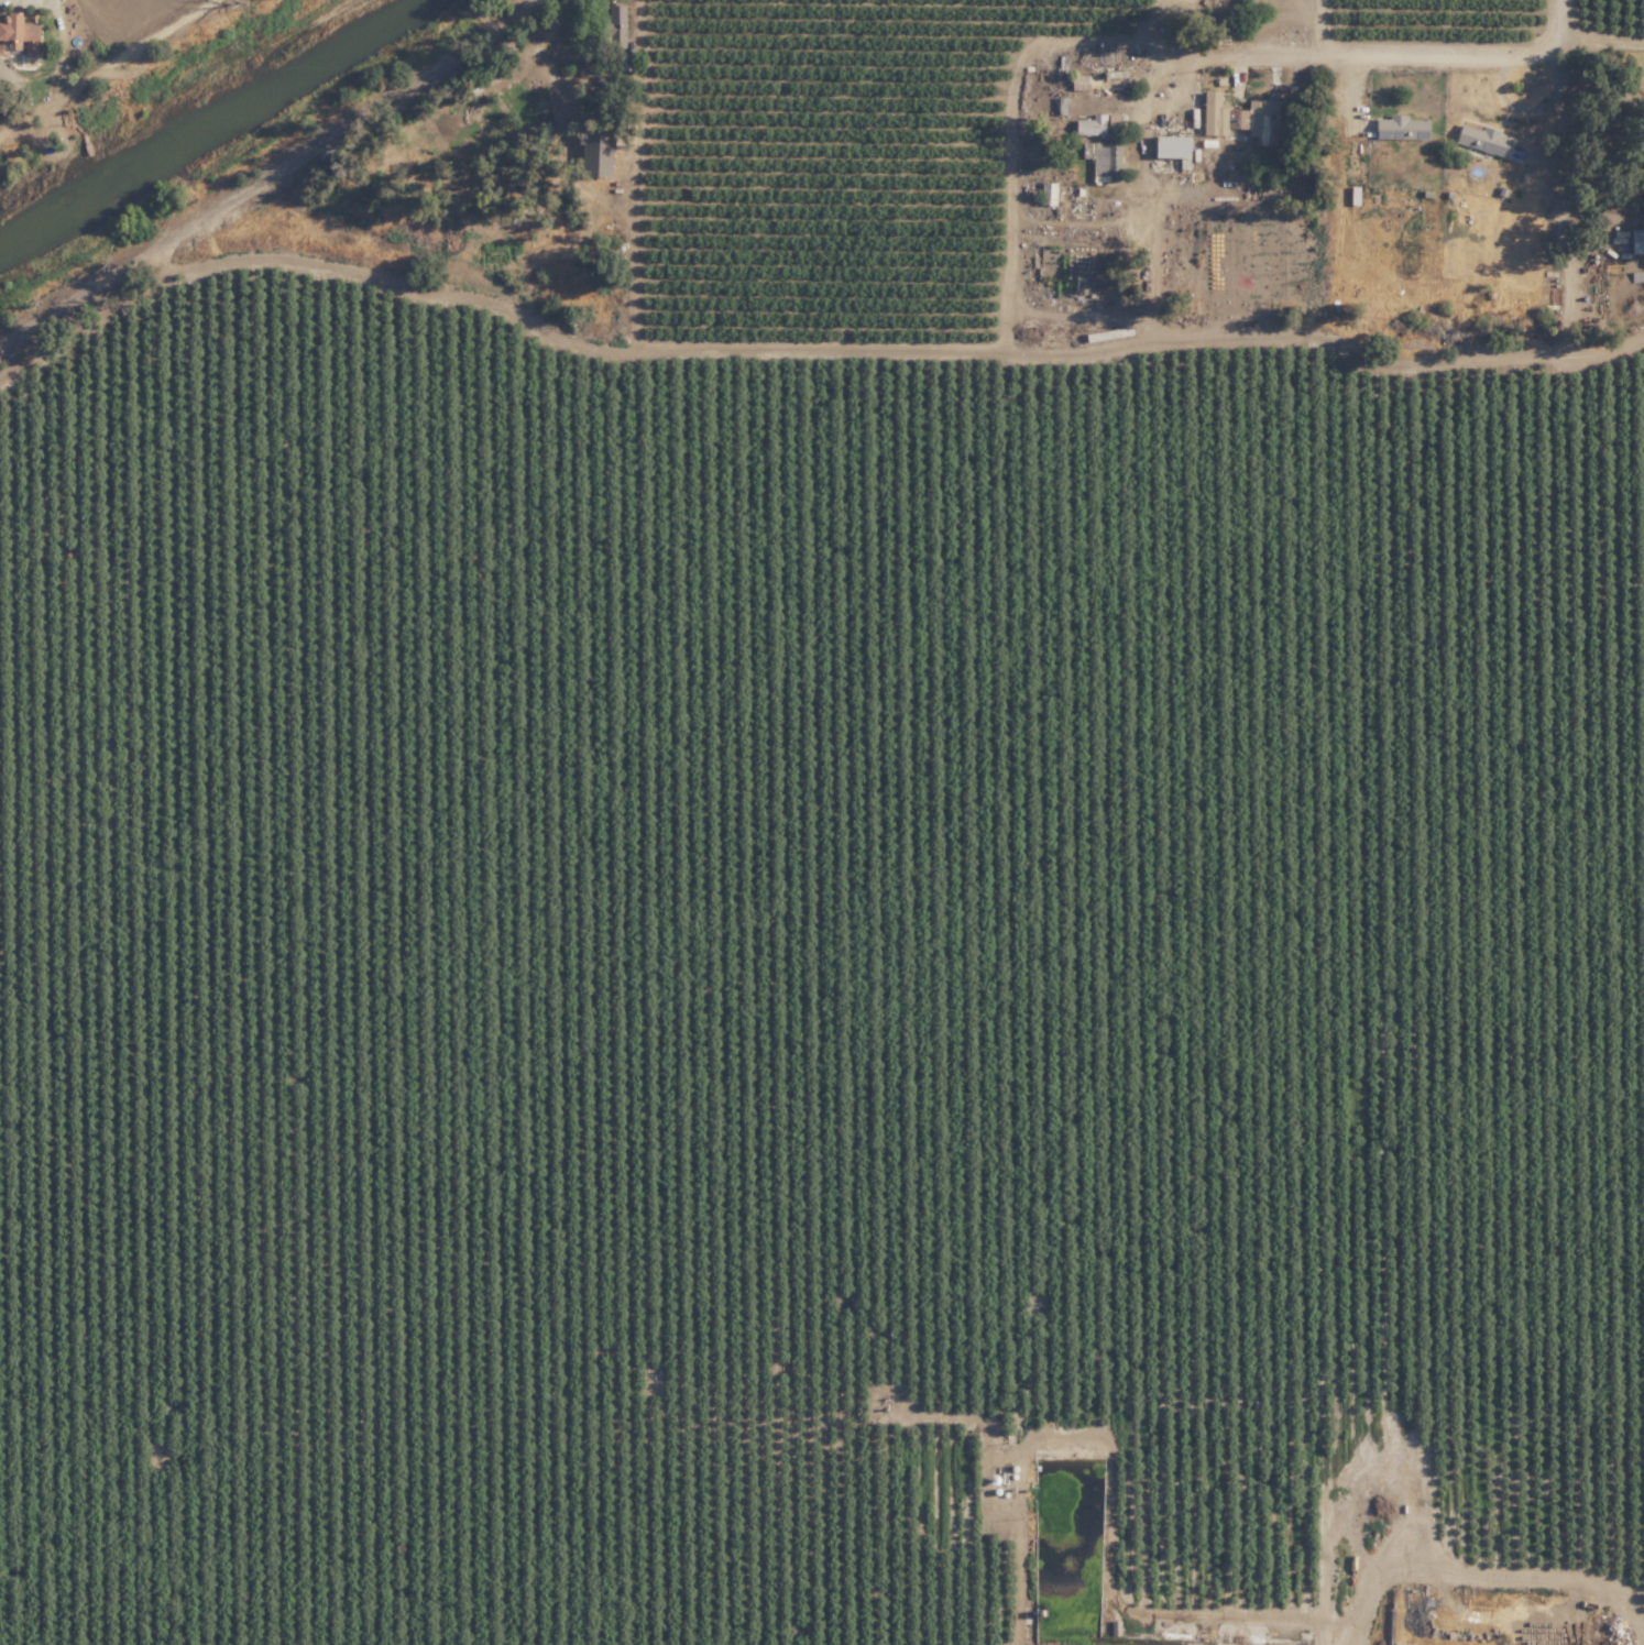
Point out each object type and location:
building: (1214, 8)
road: (1564, 22)
road: (1603, 33)
building: (20, 36)
road: (12, 59)
road: (1341, 63)
road: (1601, 70)
road: (94, 72)
building: (1075, 83)
building: (1057, 106)
building: (1216, 116)
building: (1088, 125)
river: (210, 128)
building: (1399, 128)
building: (1479, 140)
building: (1165, 147)
building: (600, 154)
building: (1098, 162)
road: (271, 180)
building: (1044, 194)
road: (1563, 235)
building: (1634, 241)
road: (609, 1438)

